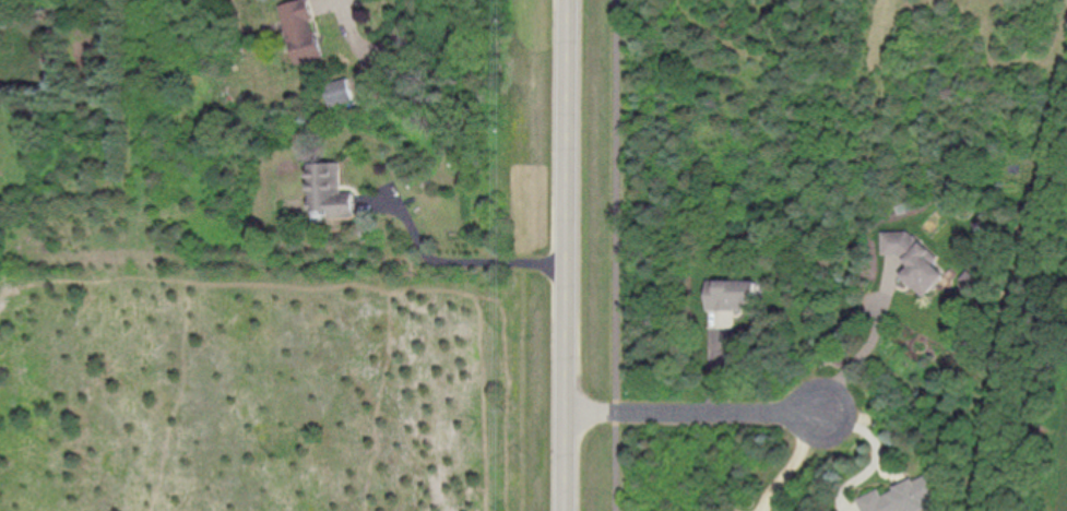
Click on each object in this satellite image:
building: (301, 29)
building: (337, 92)
building: (330, 190)
road: (617, 199)
building: (979, 222)
road: (567, 254)
building: (915, 260)
road: (465, 262)
building: (733, 294)
road: (866, 349)
road: (617, 411)
road: (695, 412)
road: (879, 452)
road: (795, 462)
road: (617, 467)
building: (905, 496)

